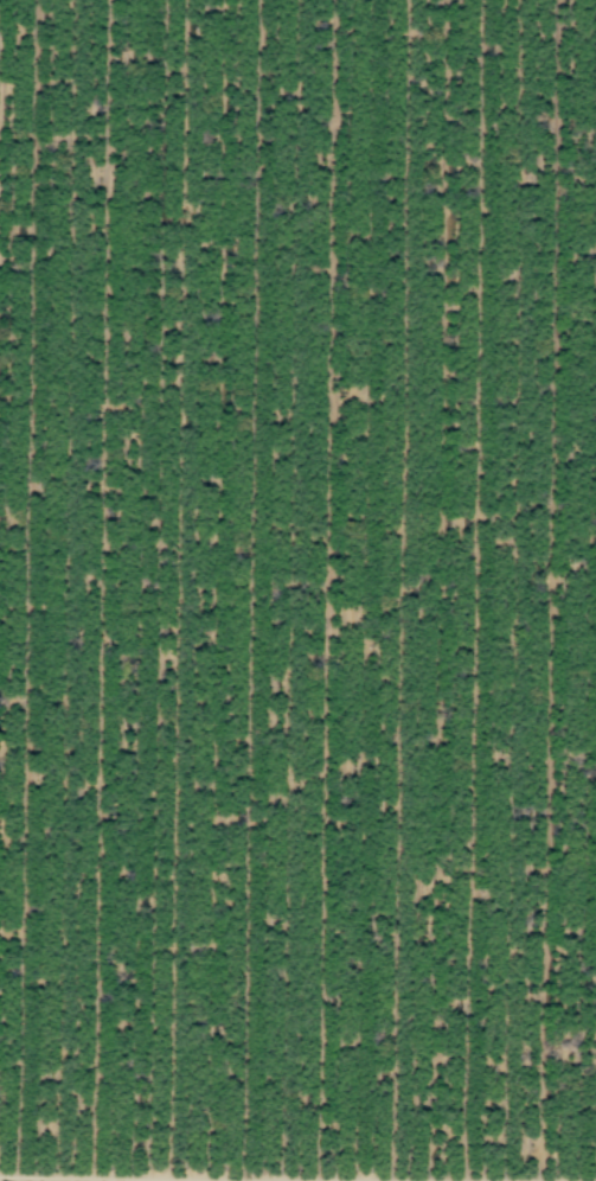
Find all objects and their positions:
road: (130, 1177)

